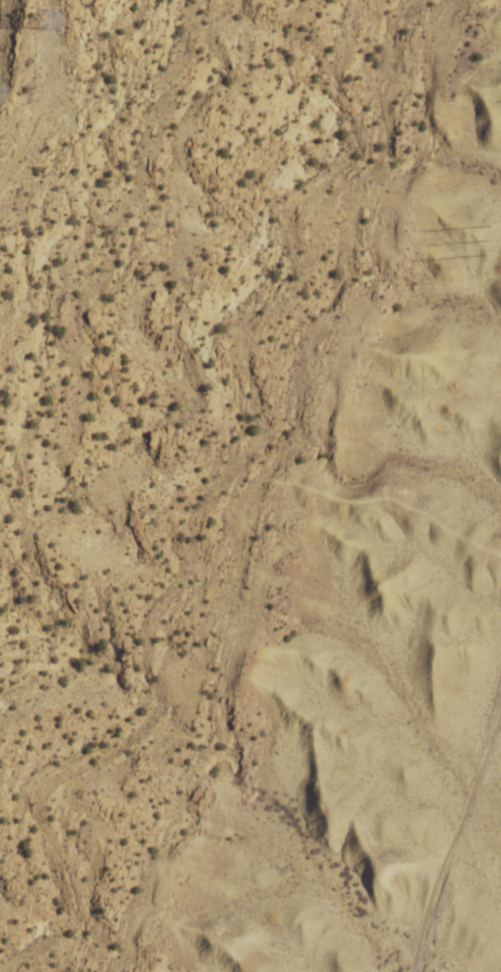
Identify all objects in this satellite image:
power tower: (53, 17)
power tower: (1, 87)
power tower: (489, 234)
road: (423, 748)

